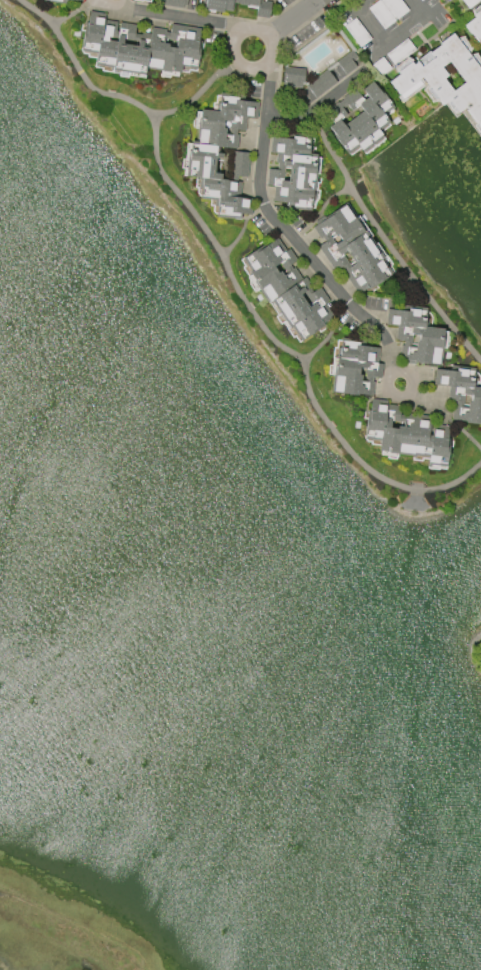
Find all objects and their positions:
building: (54, 0)
building: (77, 0)
road: (121, 2)
building: (172, 3)
road: (364, 4)
road: (419, 7)
building: (262, 9)
road: (69, 15)
road: (190, 19)
building: (475, 25)
road: (387, 43)
building: (140, 46)
building: (318, 74)
building: (446, 77)
road: (143, 110)
building: (359, 119)
building: (204, 156)
building: (240, 163)
building: (291, 172)
road: (259, 179)
road: (374, 222)
building: (349, 248)
building: (287, 289)
building: (416, 335)
road: (286, 348)
building: (354, 367)
building: (461, 393)
building: (406, 432)

